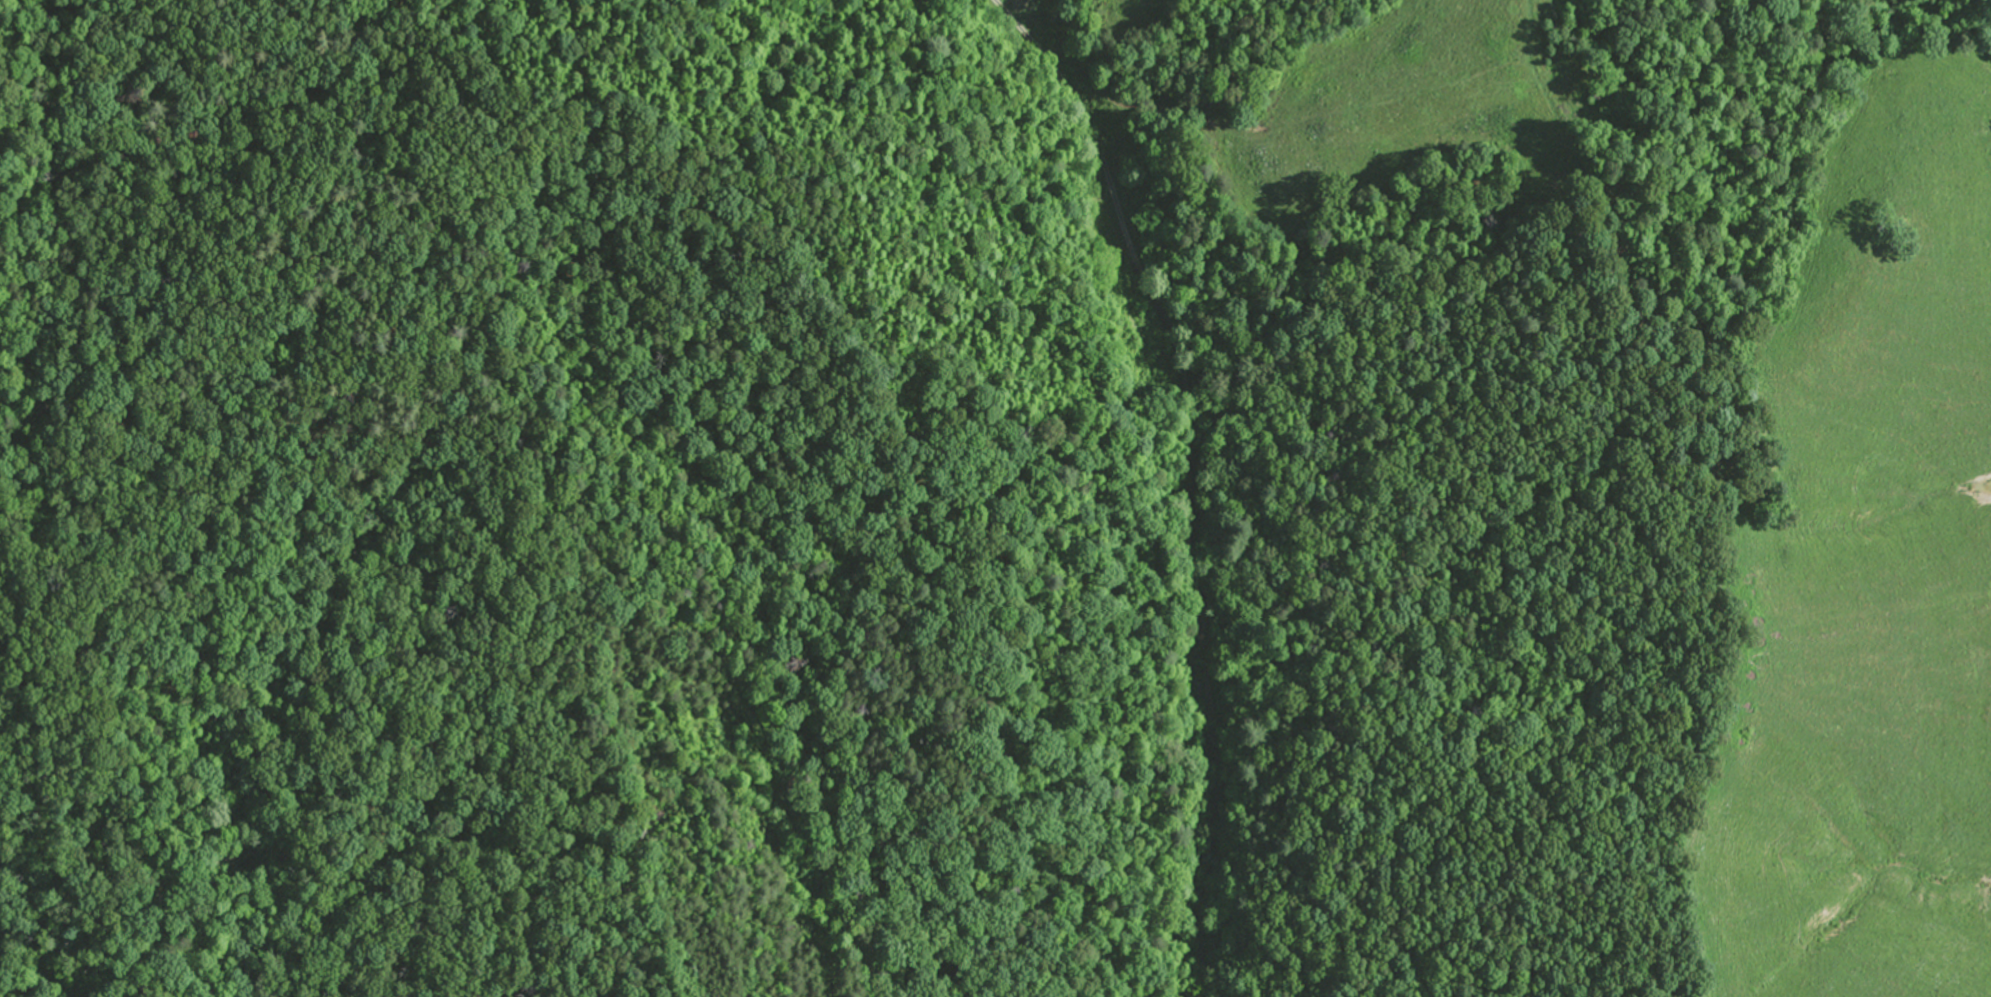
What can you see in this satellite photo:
road: (1191, 471)

